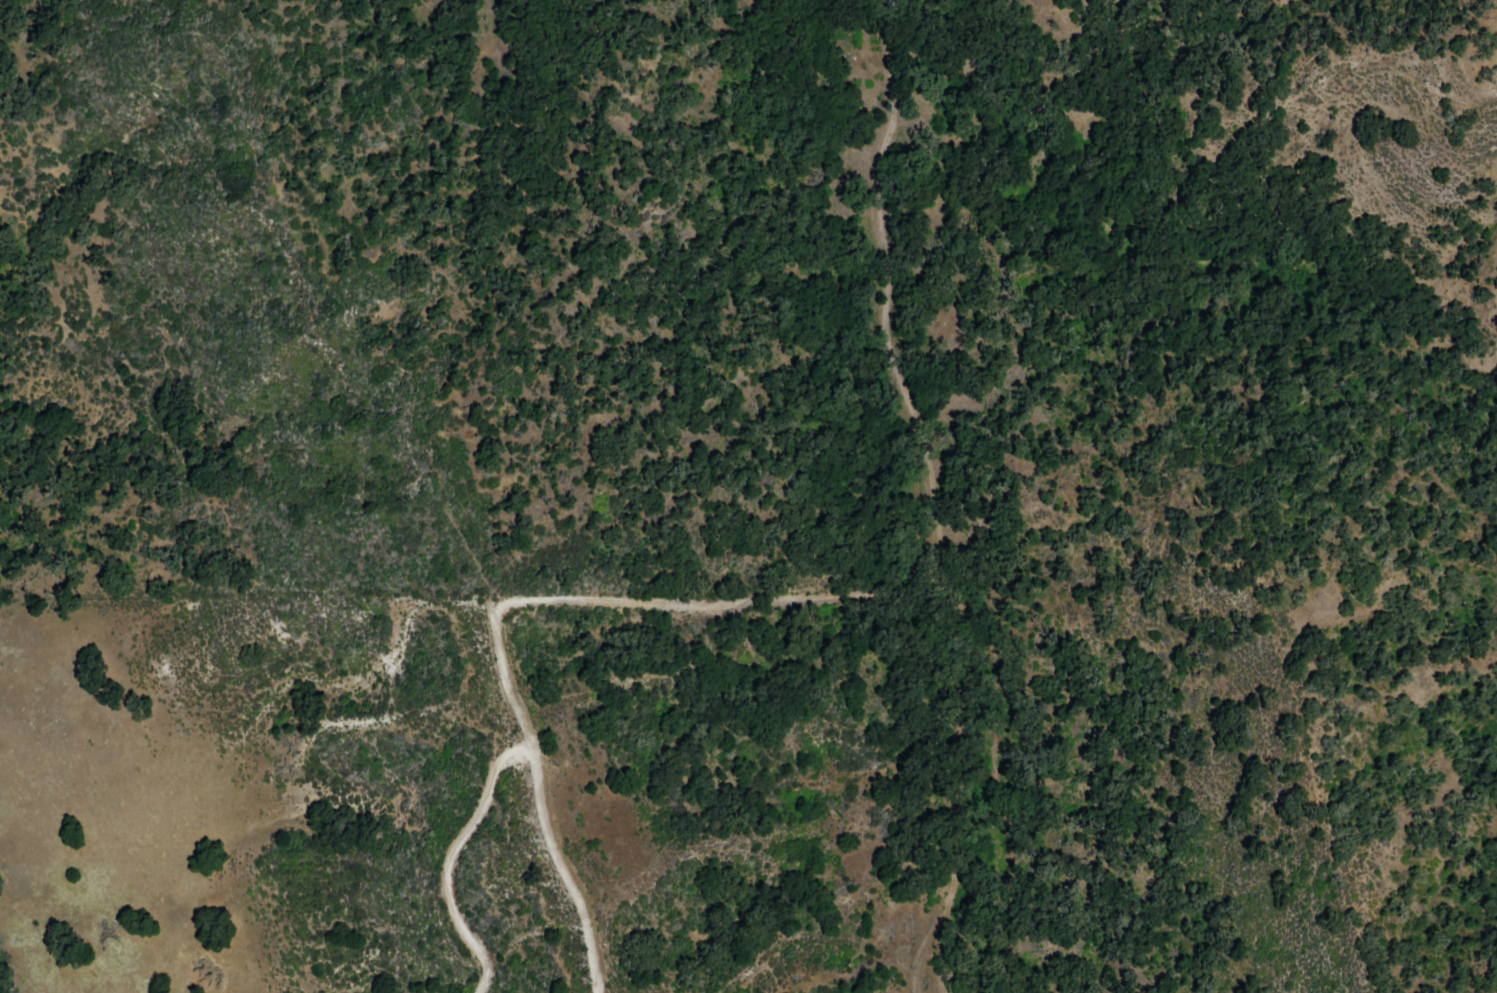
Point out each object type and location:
road: (934, 268)
road: (491, 743)
road: (7, 976)

